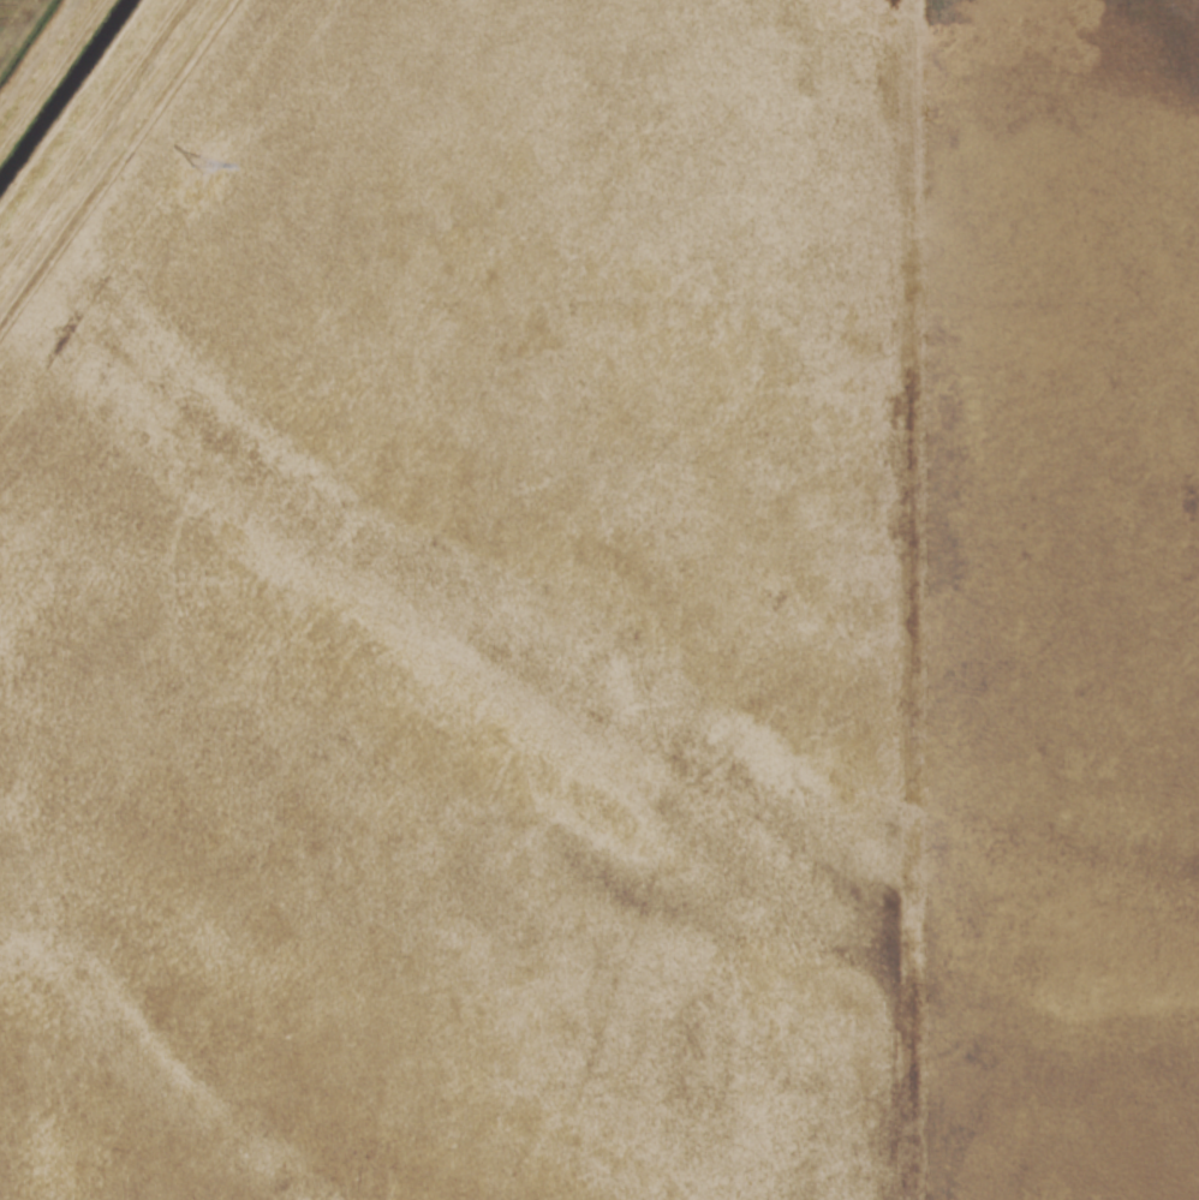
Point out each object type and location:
power tower: (184, 189)

